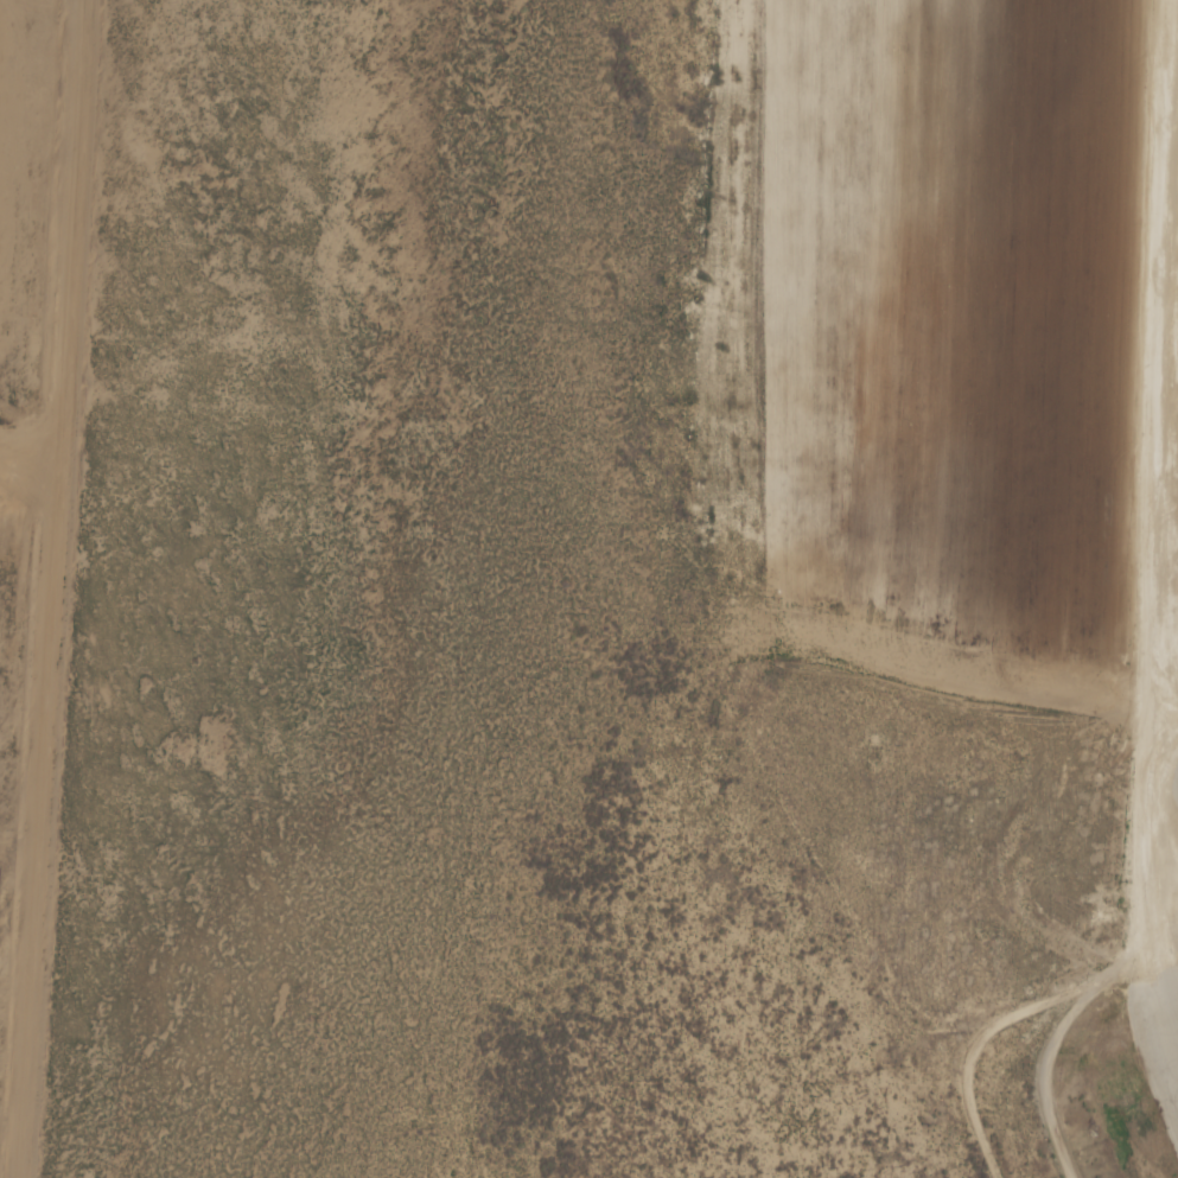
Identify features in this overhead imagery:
landfill: (12, 191)
landfill: (931, 310)
road: (1163, 1019)
road: (1053, 1048)

